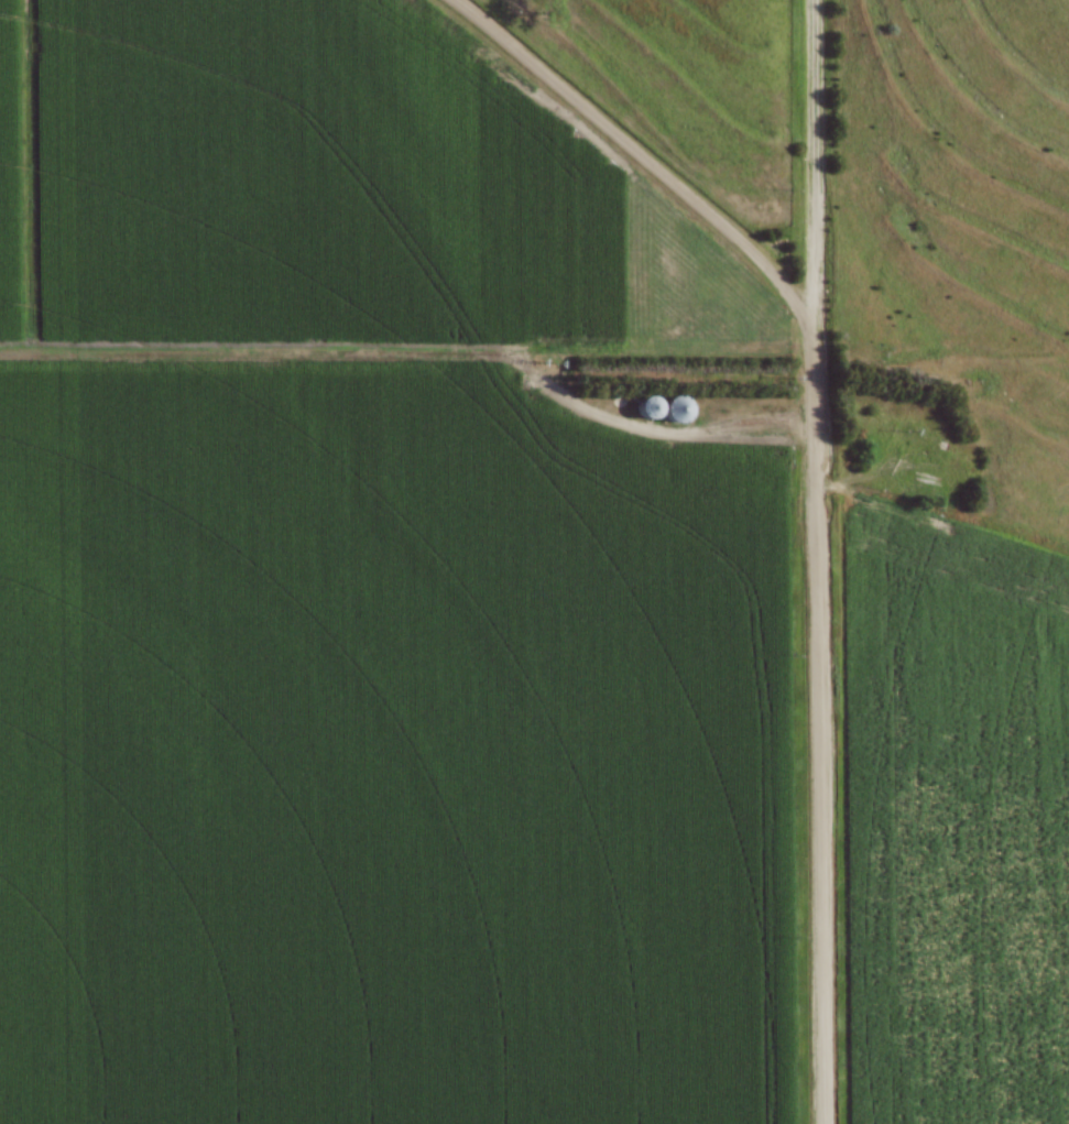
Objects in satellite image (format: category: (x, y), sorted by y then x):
road: (641, 156)
crop: (299, 179)
road: (414, 363)
silo: (651, 408)
silo: (680, 412)
building: (677, 413)
road: (817, 561)
crop: (388, 760)
crop: (957, 819)

